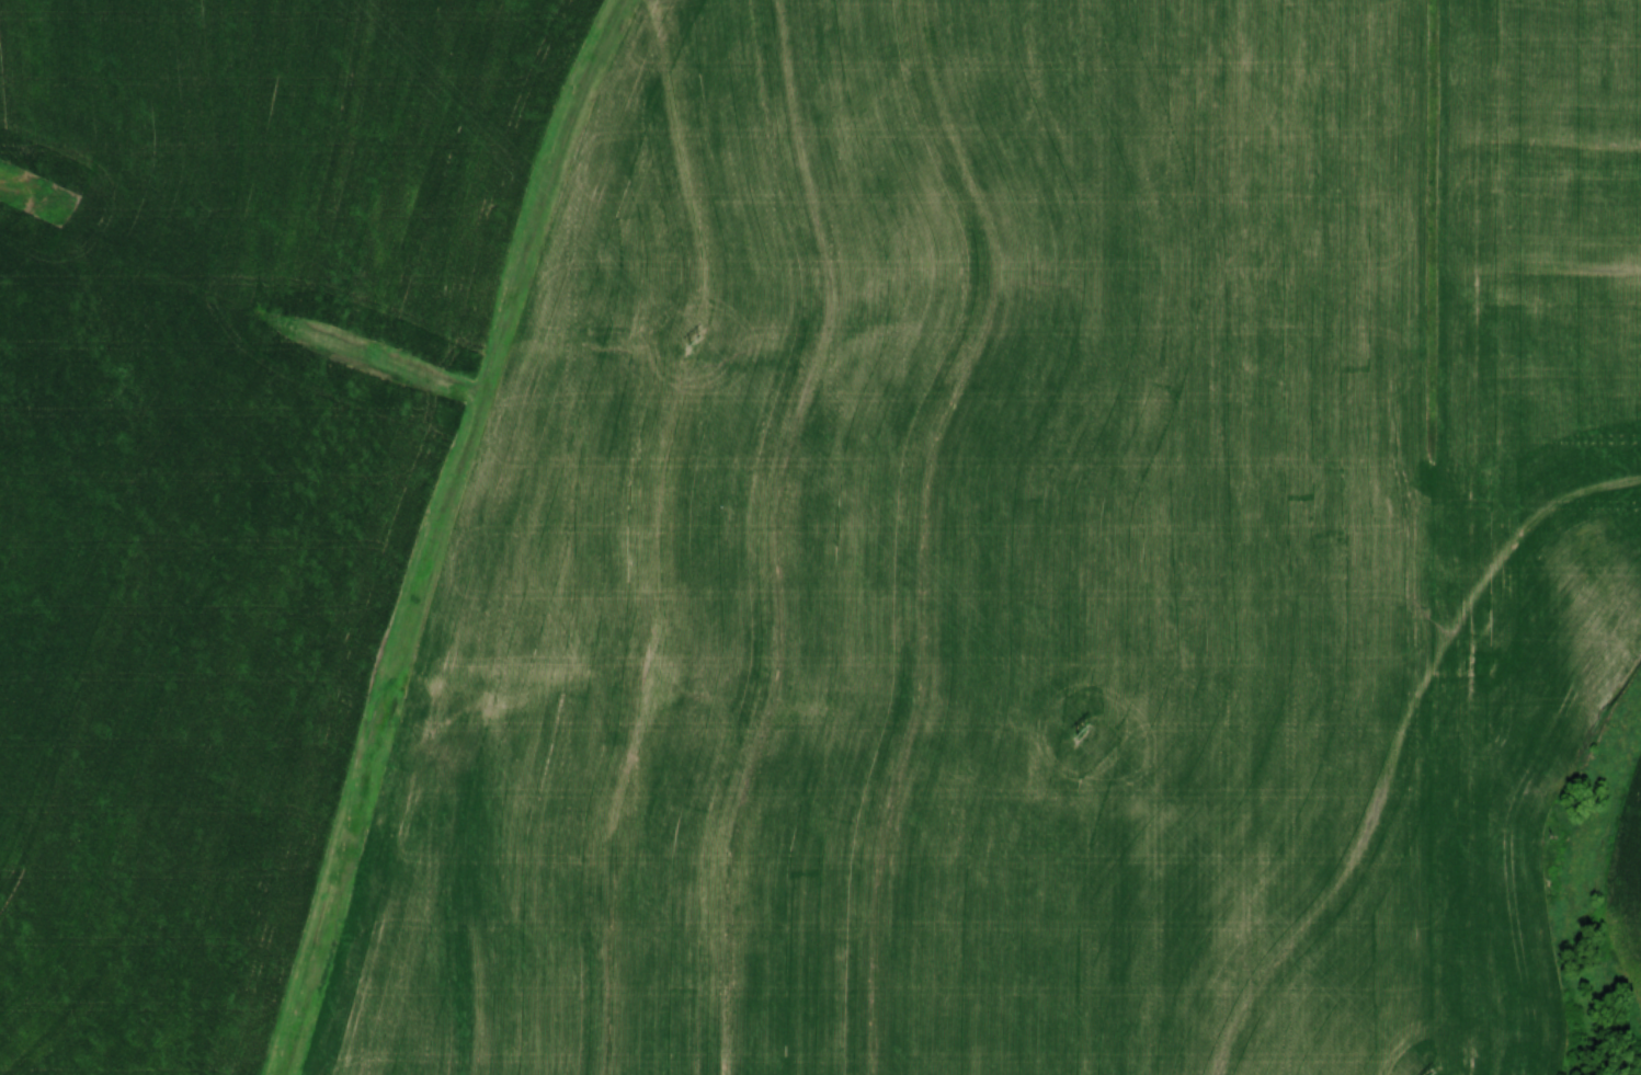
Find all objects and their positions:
power tower: (693, 340)
power tower: (1079, 730)

